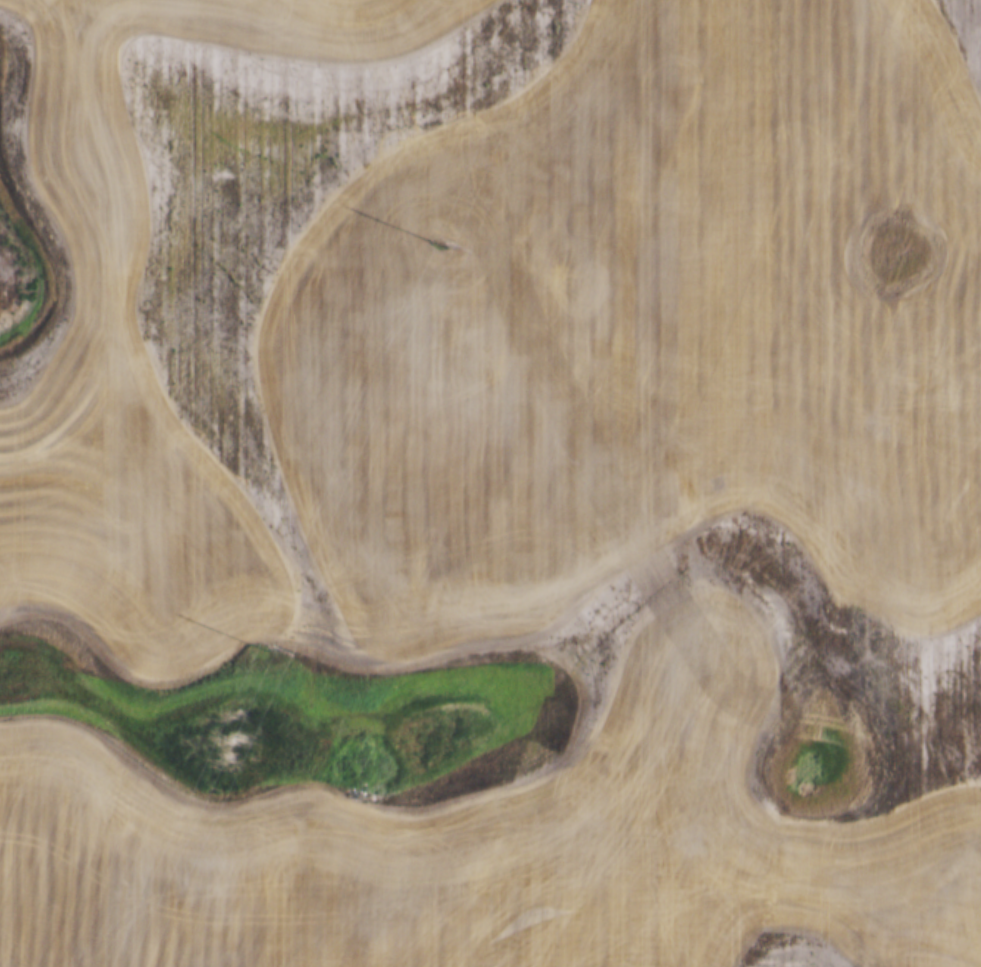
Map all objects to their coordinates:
power tower: (439, 242)
power tower: (258, 646)

